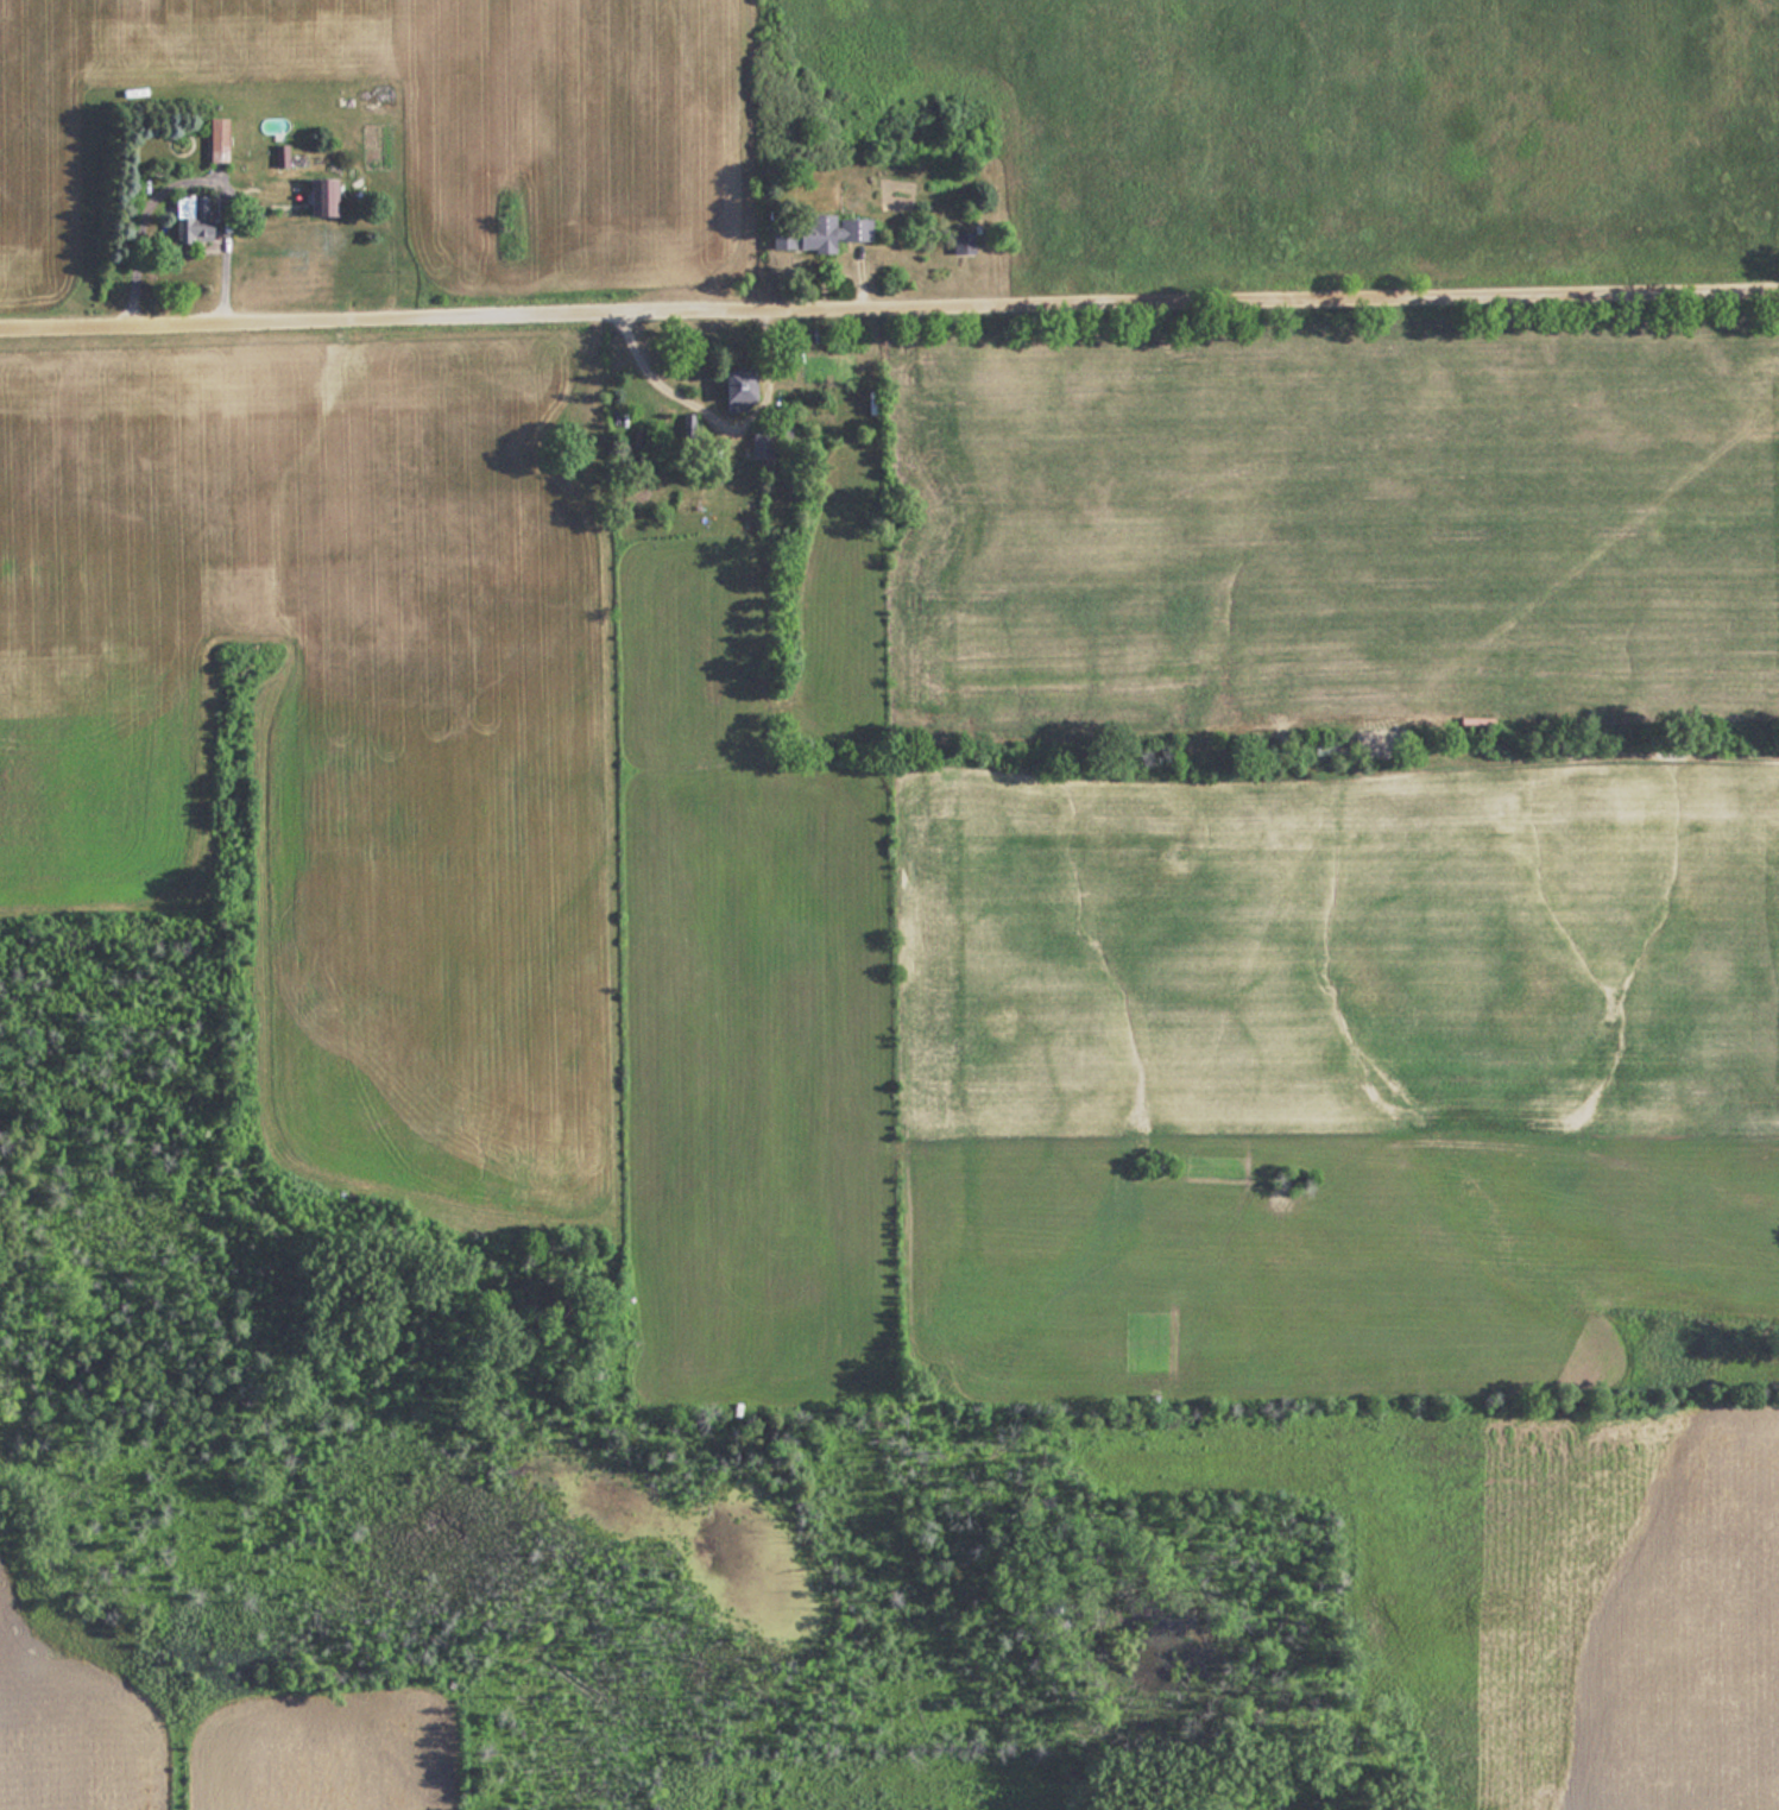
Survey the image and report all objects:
building: (213, 138)
building: (276, 154)
building: (313, 195)
building: (183, 216)
building: (815, 232)
building: (959, 241)
road: (889, 310)
building: (732, 389)

